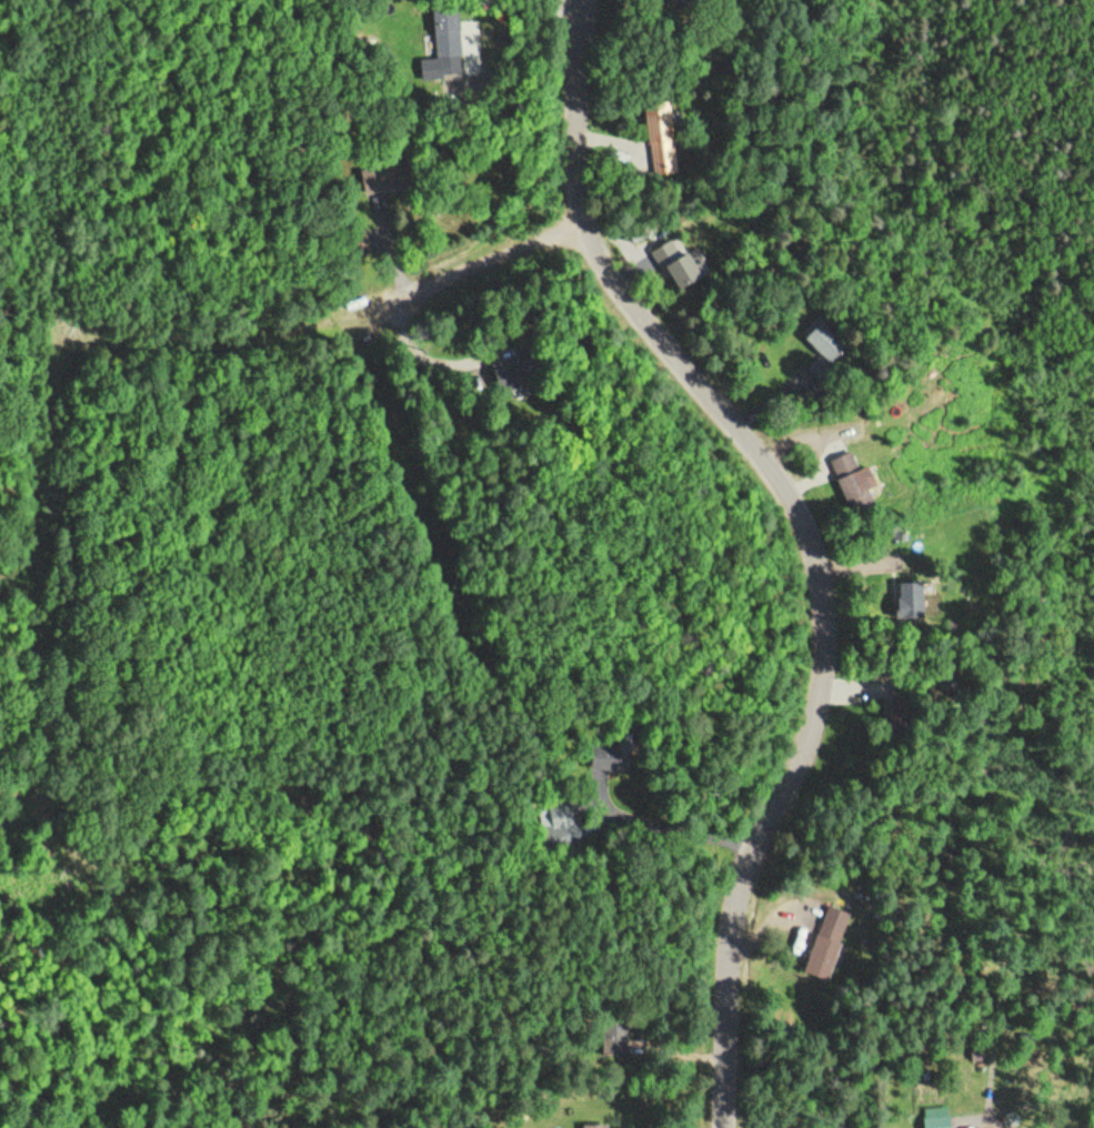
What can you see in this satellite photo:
building: (451, 36)
building: (662, 137)
building: (411, 177)
building: (682, 266)
road: (329, 325)
road: (52, 346)
building: (831, 351)
building: (524, 370)
building: (862, 484)
road: (809, 537)
building: (629, 748)
building: (832, 943)
building: (936, 1121)
building: (602, 1125)

